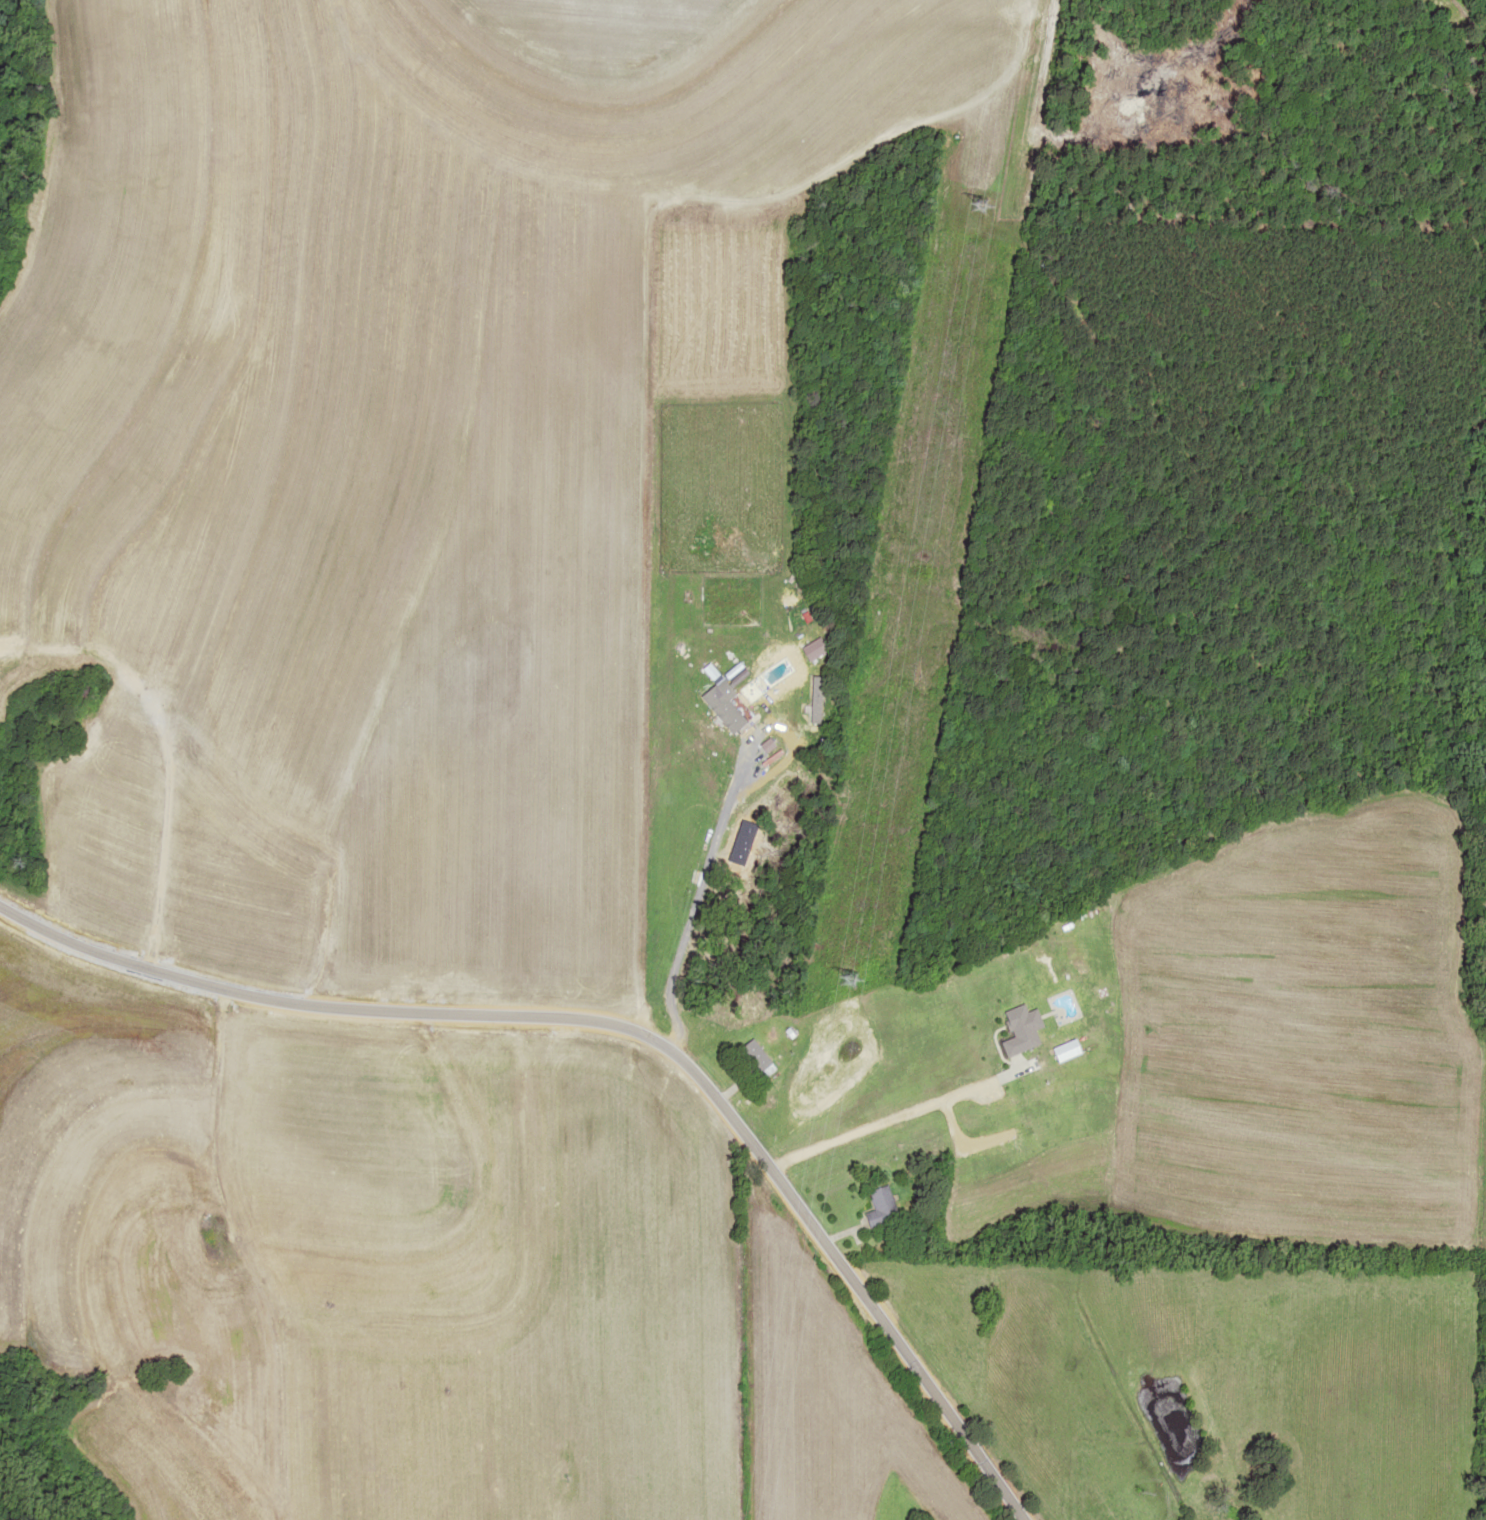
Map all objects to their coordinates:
road: (632, 1033)
building: (753, 1058)
power tower: (805, 1192)
building: (881, 1208)
road: (246, 1259)

